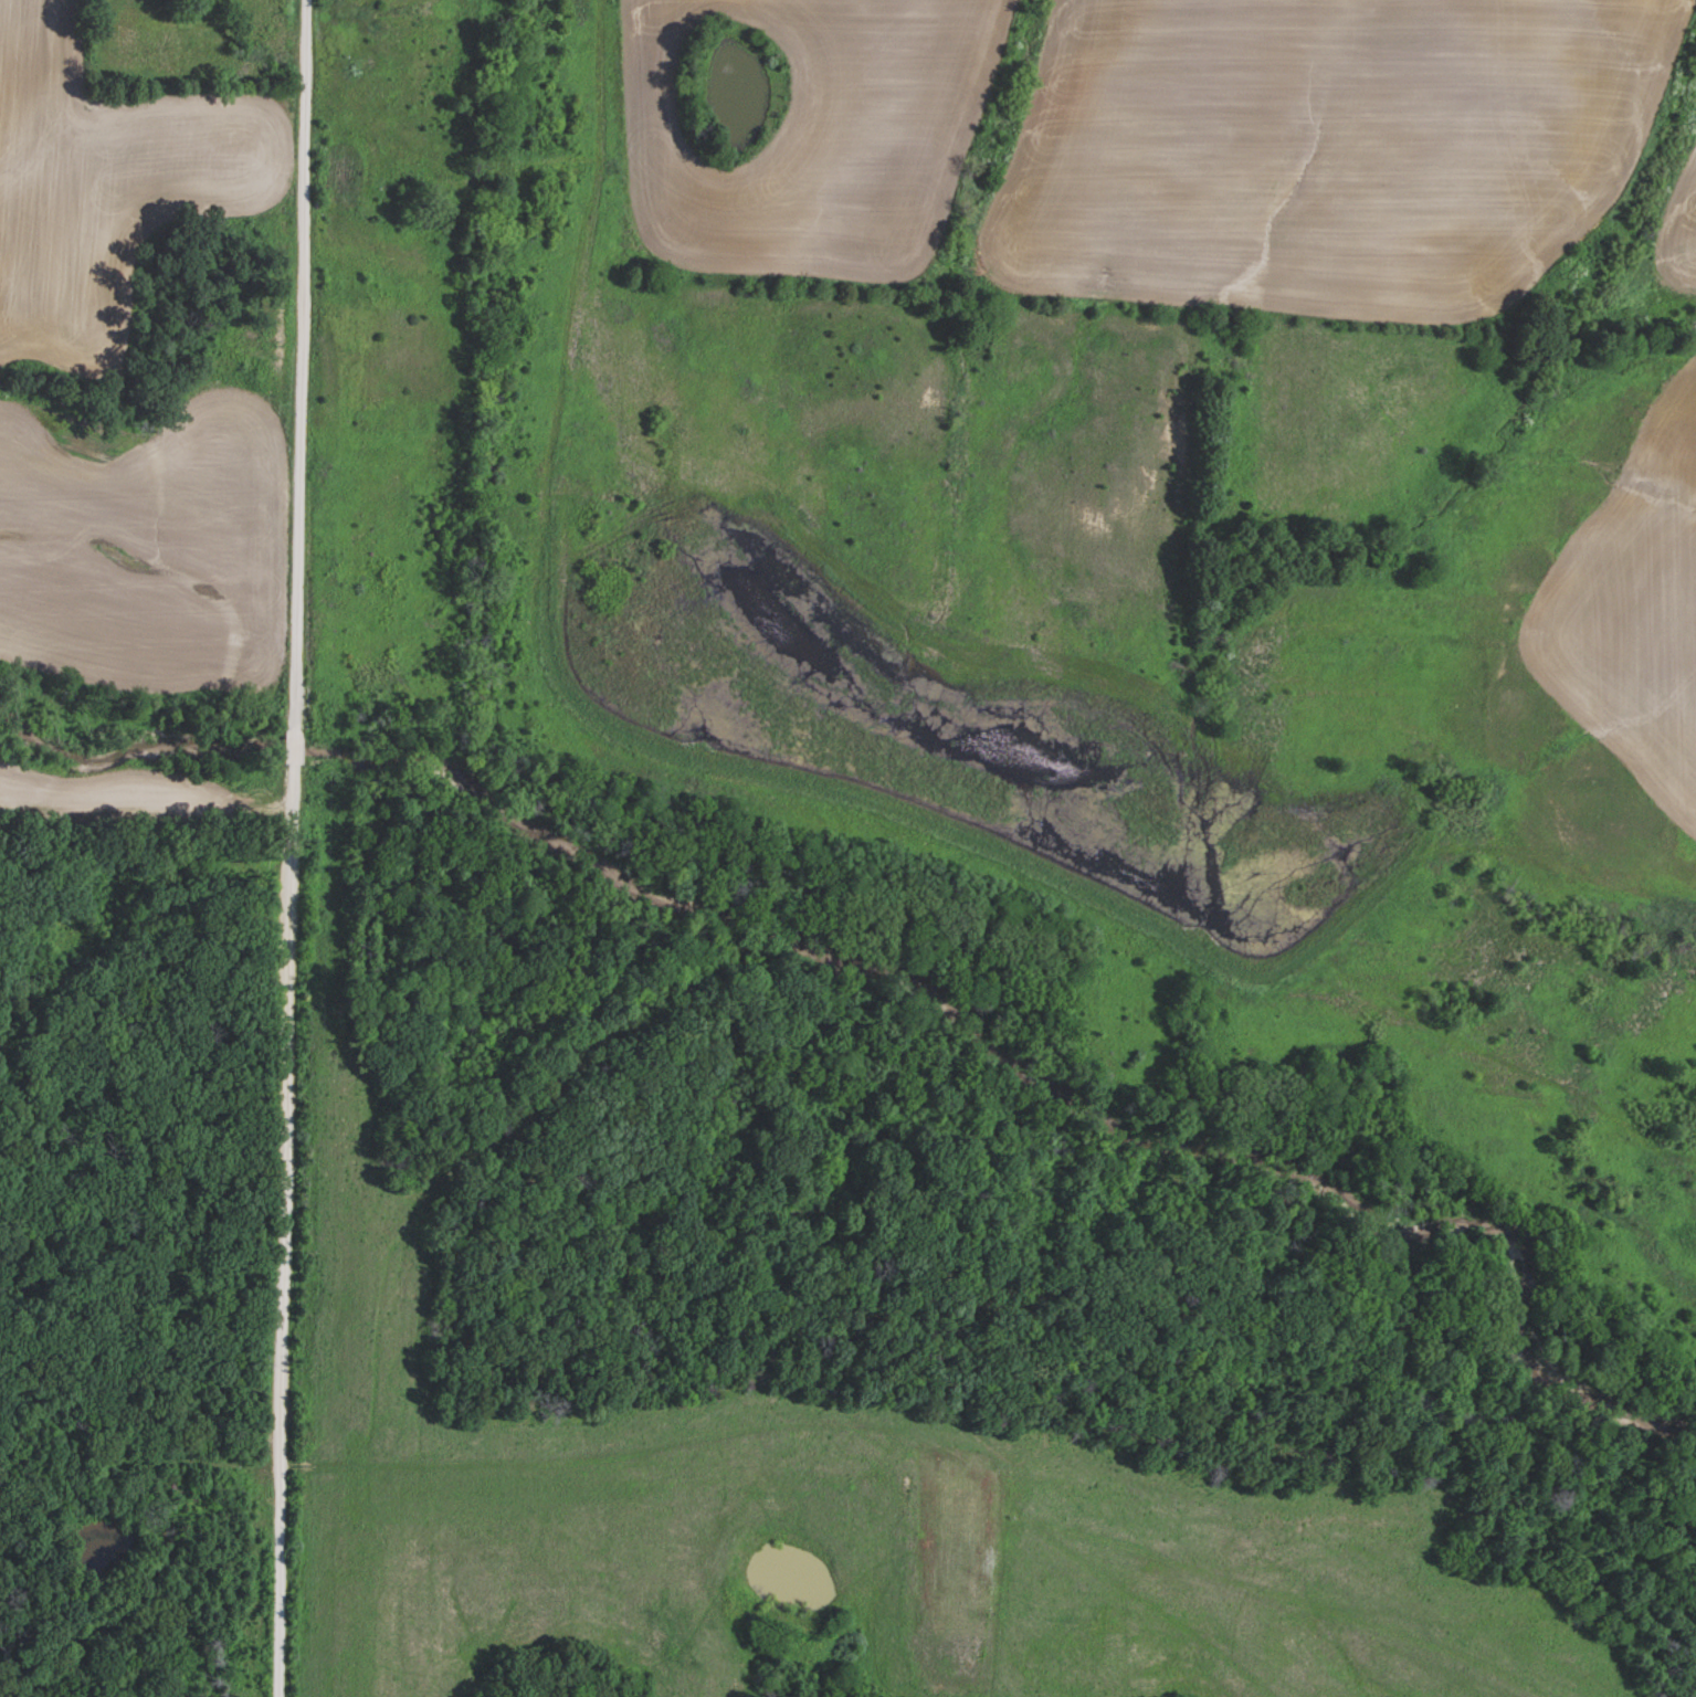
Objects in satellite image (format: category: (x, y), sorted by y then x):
road: (303, 361)
road: (295, 746)
road: (286, 1232)

